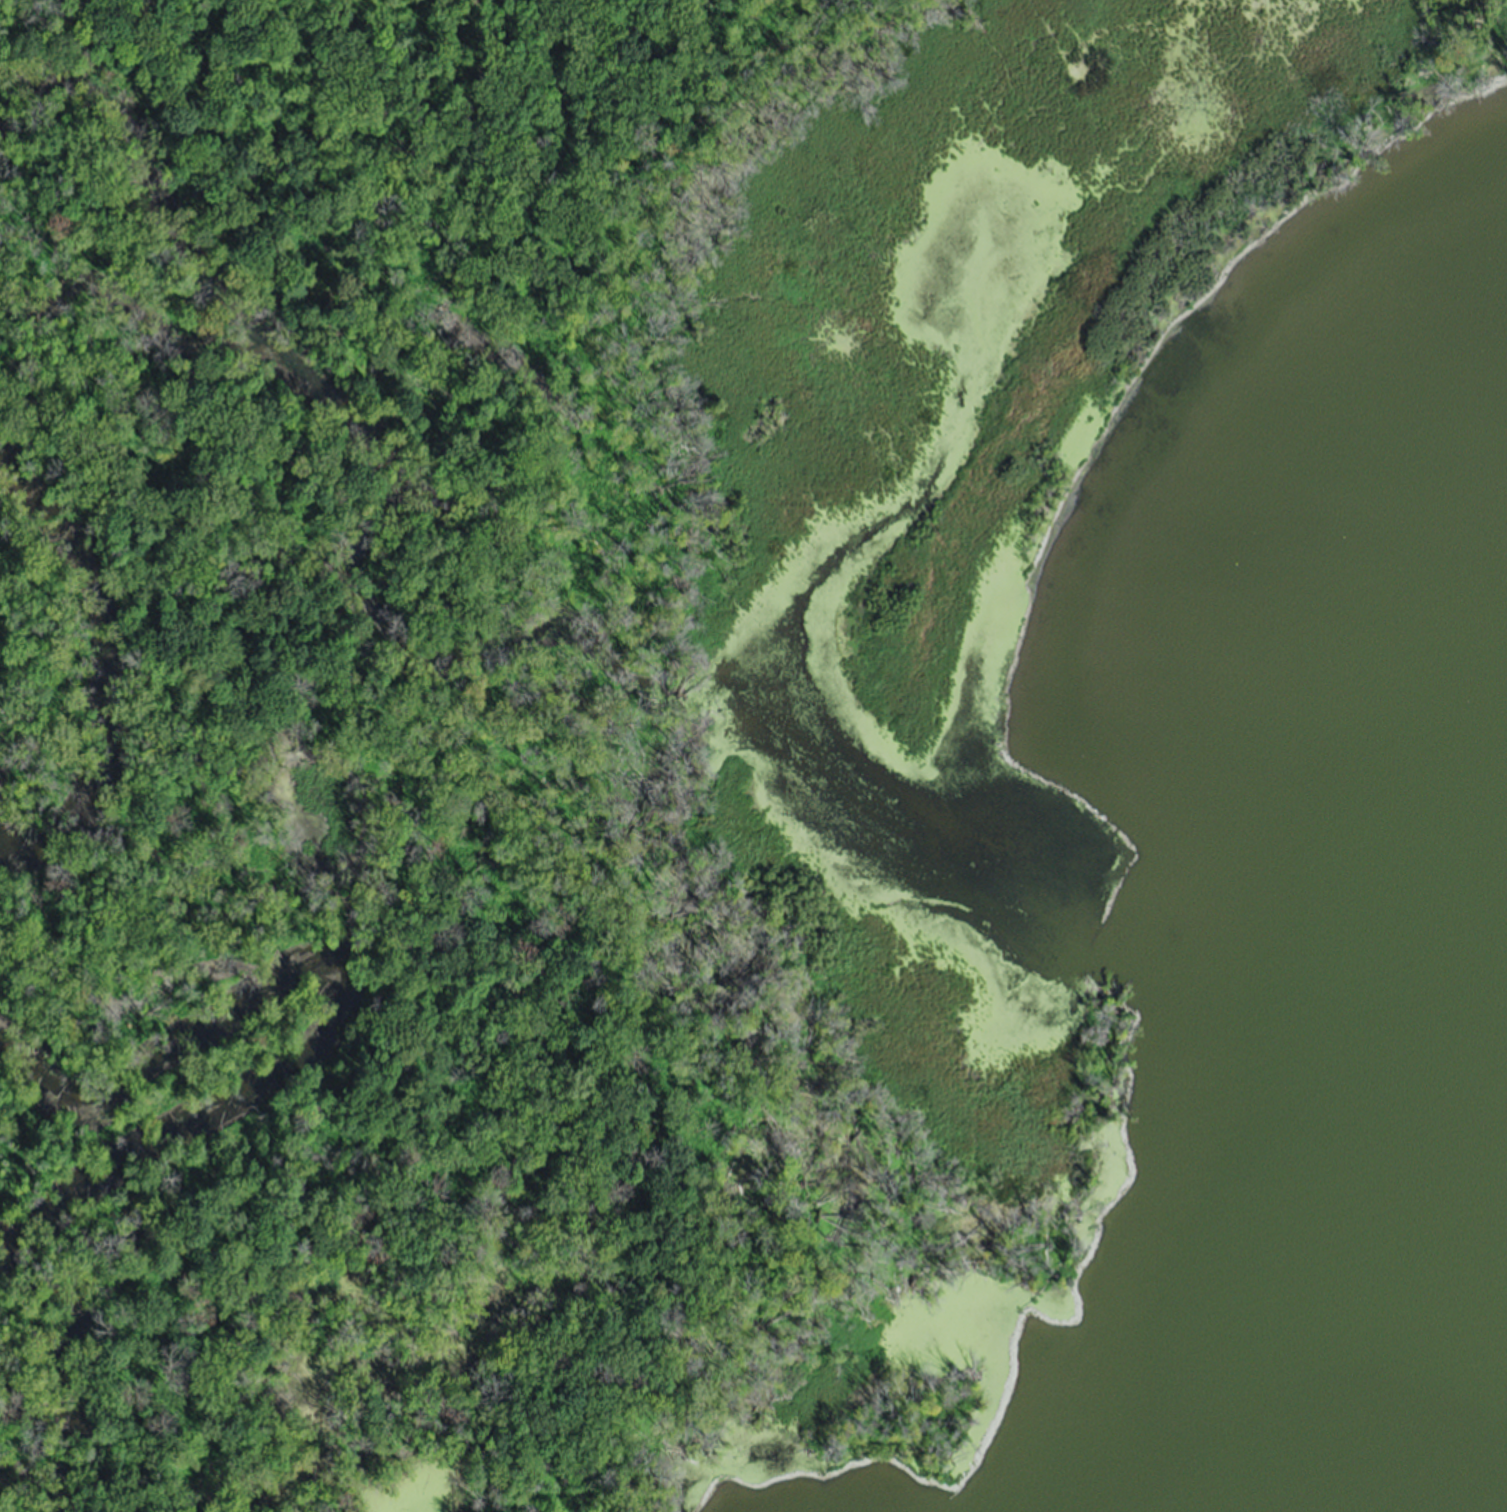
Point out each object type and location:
river: (94, 629)
river: (308, 1046)

